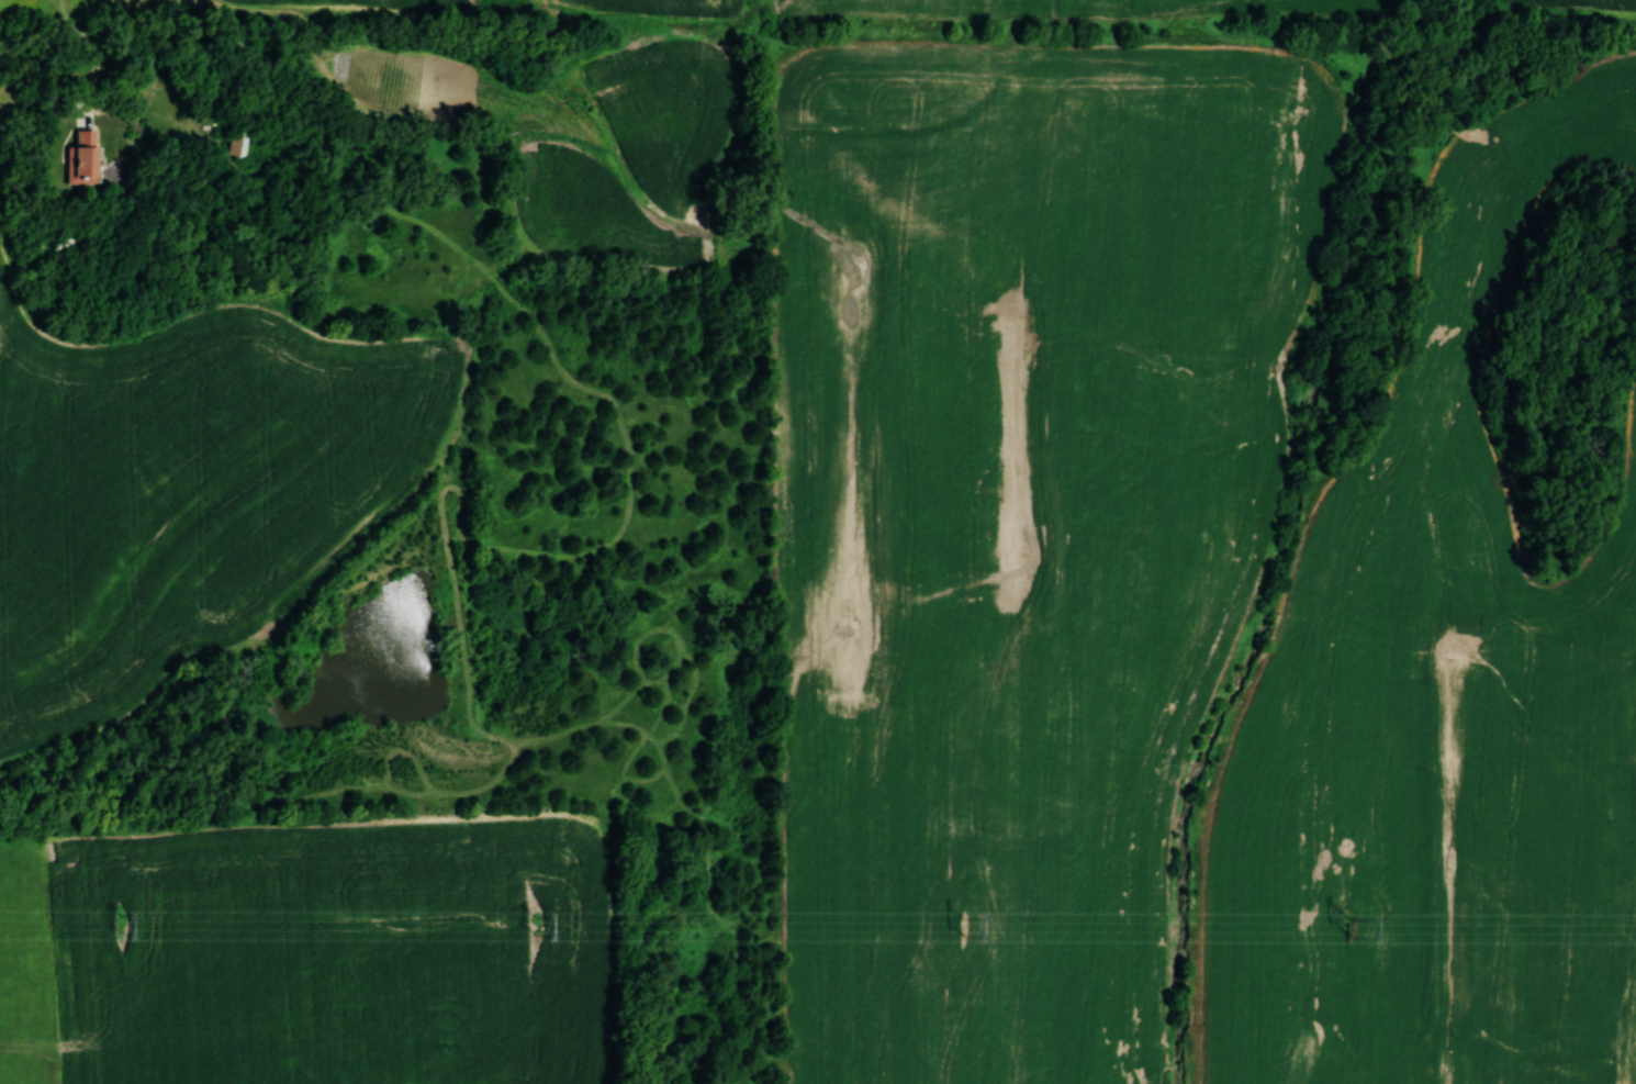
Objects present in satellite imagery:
building: (242, 144)
building: (80, 158)
power tower: (119, 926)
power tower: (541, 928)
power tower: (962, 928)
power tower: (1349, 929)

